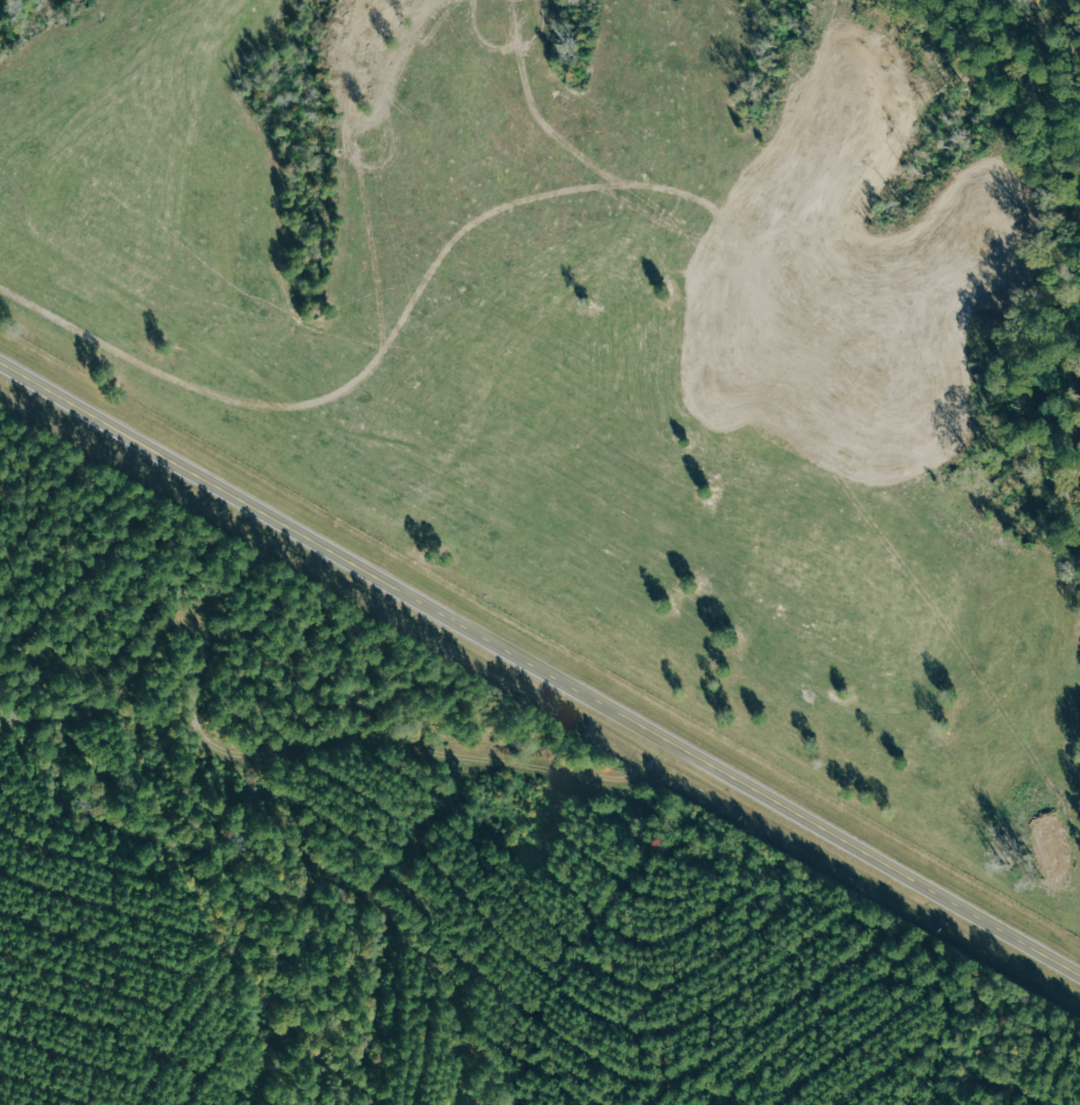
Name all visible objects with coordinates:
road: (539, 672)

